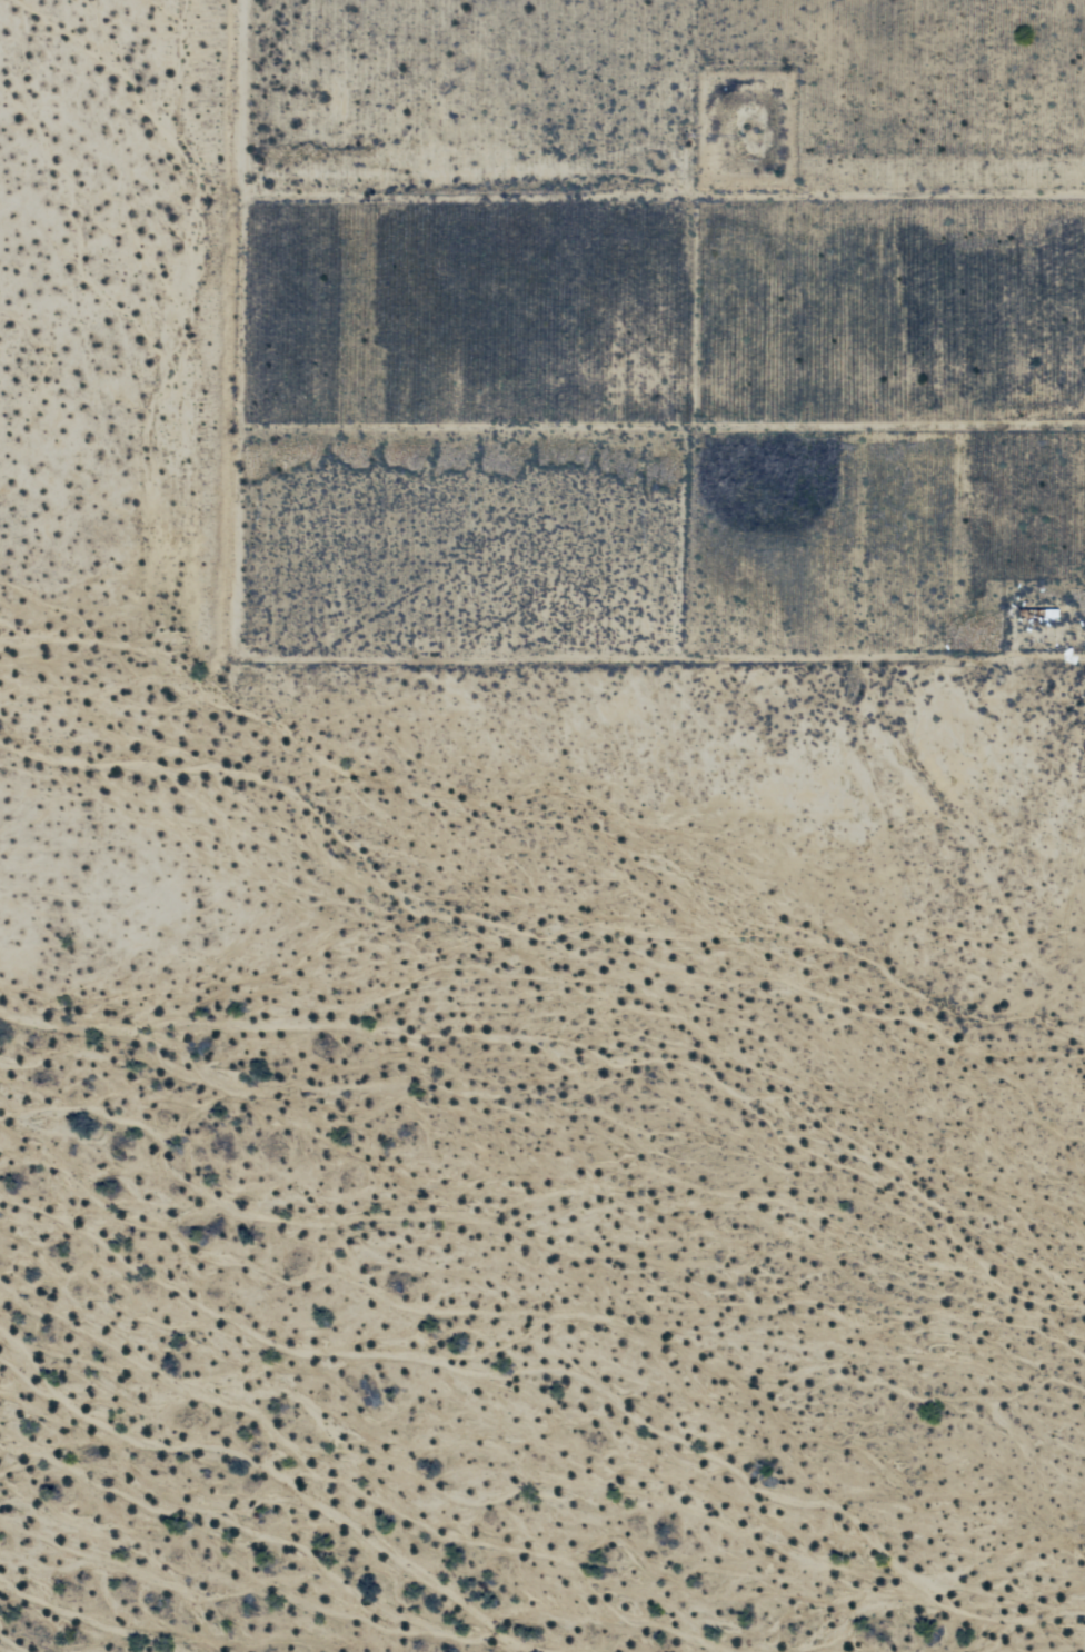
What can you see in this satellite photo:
building: (1042, 613)

